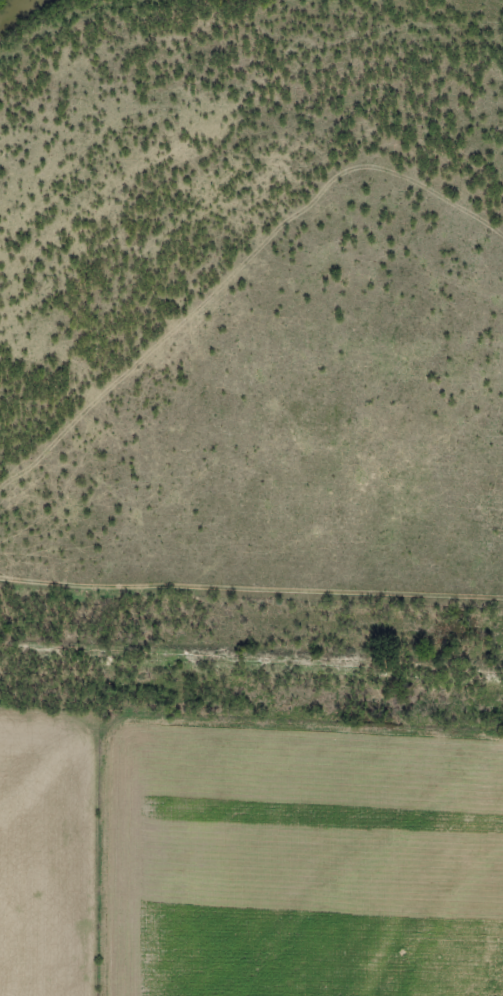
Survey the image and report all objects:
railway: (251, 651)

